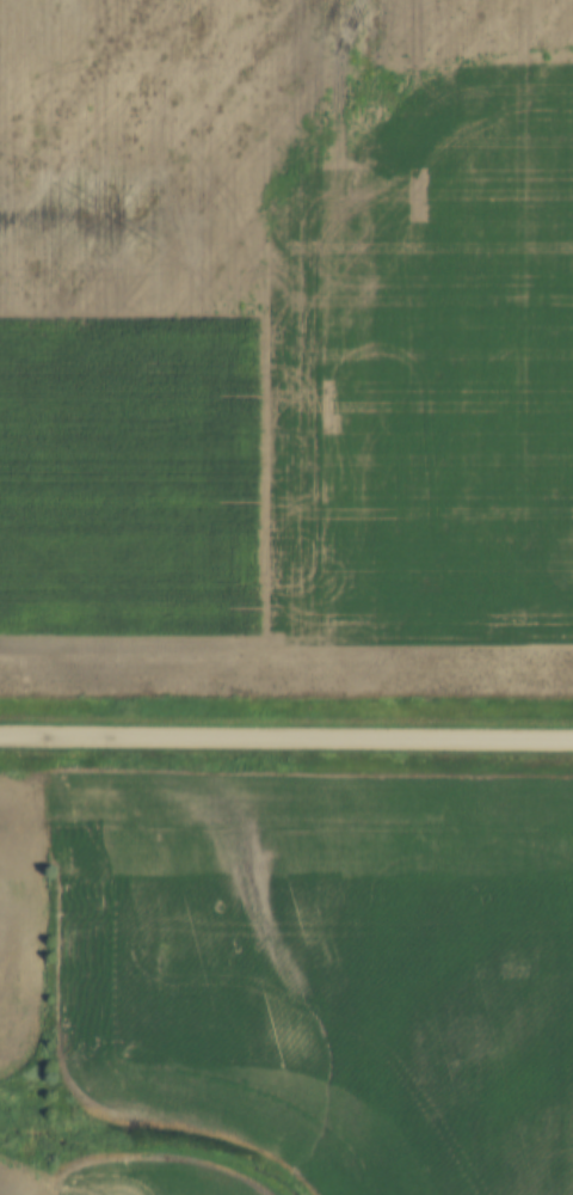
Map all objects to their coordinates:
road: (286, 736)

